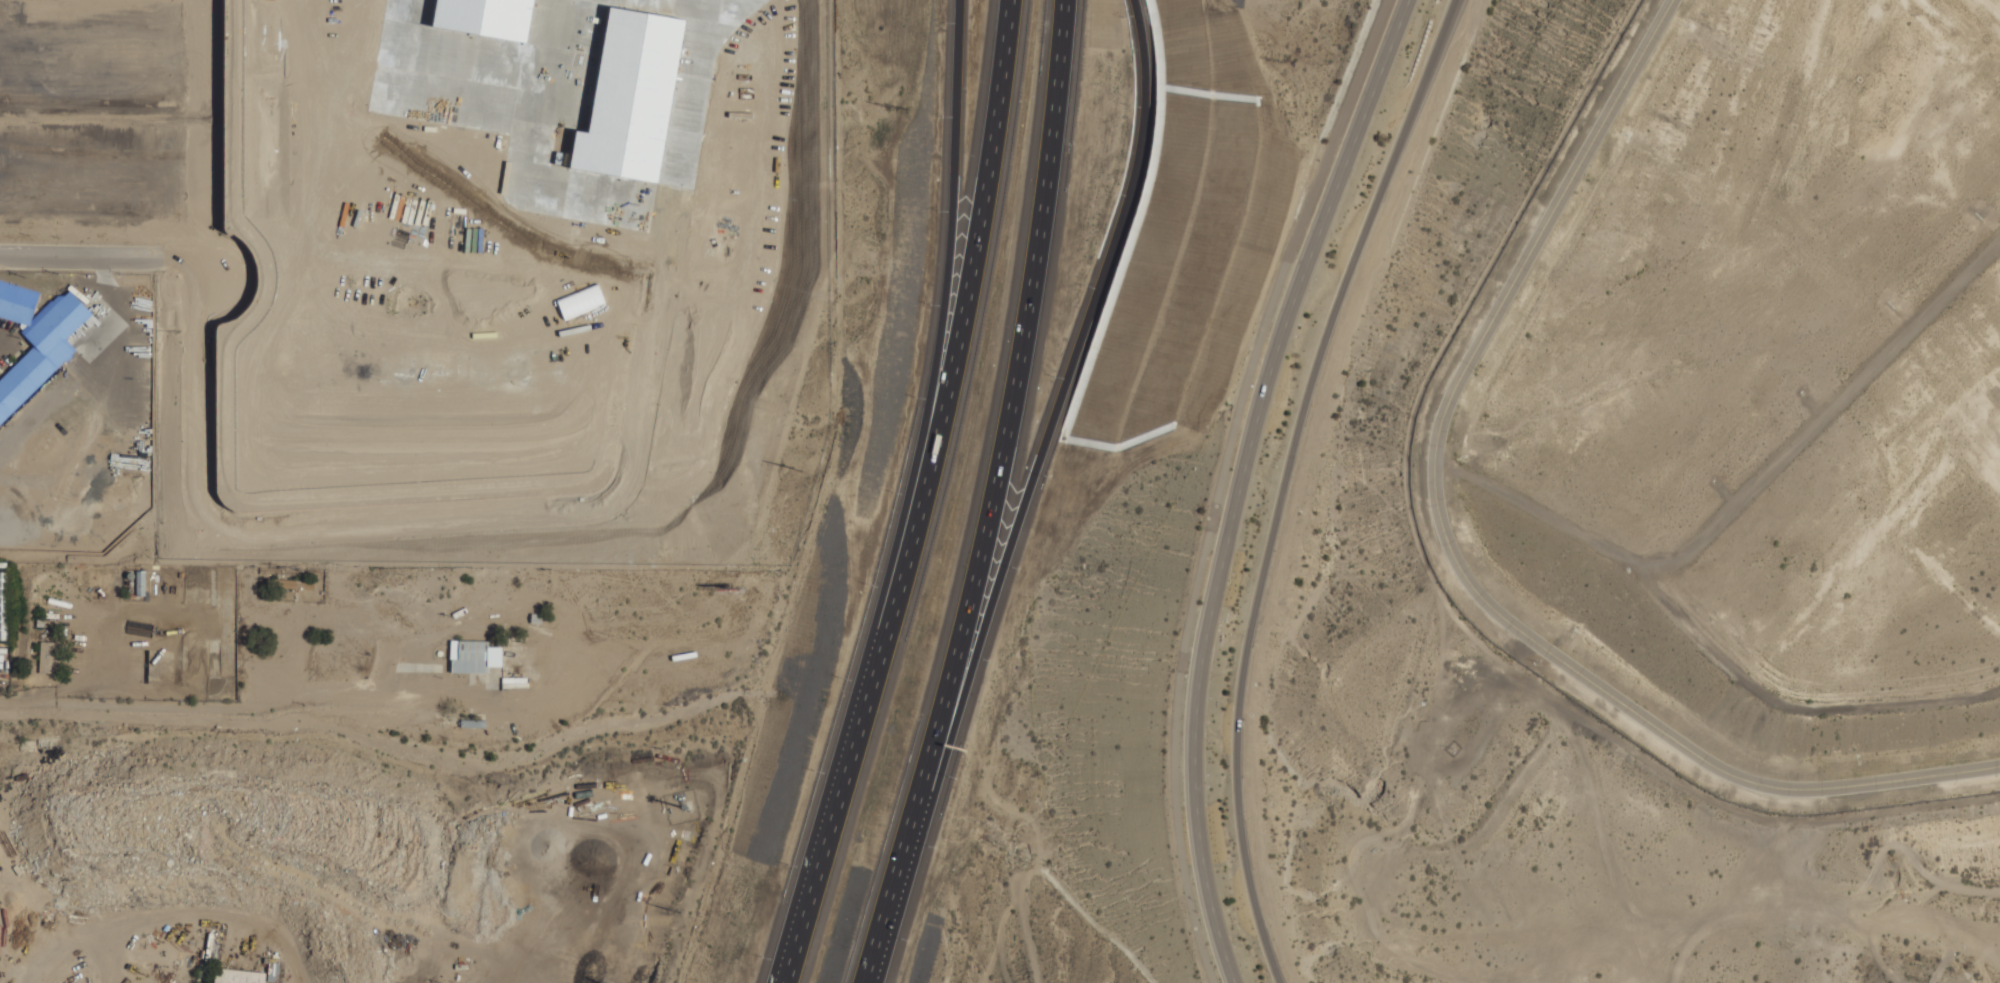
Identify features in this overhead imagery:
road: (700, 1)
building: (482, 17)
road: (1418, 94)
building: (630, 97)
building: (170, 132)
road: (97, 257)
building: (16, 303)
building: (42, 351)
road: (933, 383)
railway: (43, 386)
airport: (1750, 405)
road: (1051, 428)
road: (1221, 481)
road: (1241, 482)
road: (925, 490)
road: (995, 496)
road: (380, 528)
road: (1457, 560)
road: (1261, 580)
building: (2, 604)
building: (48, 656)
building: (476, 656)
road: (371, 739)
building: (238, 976)
road: (789, 976)

